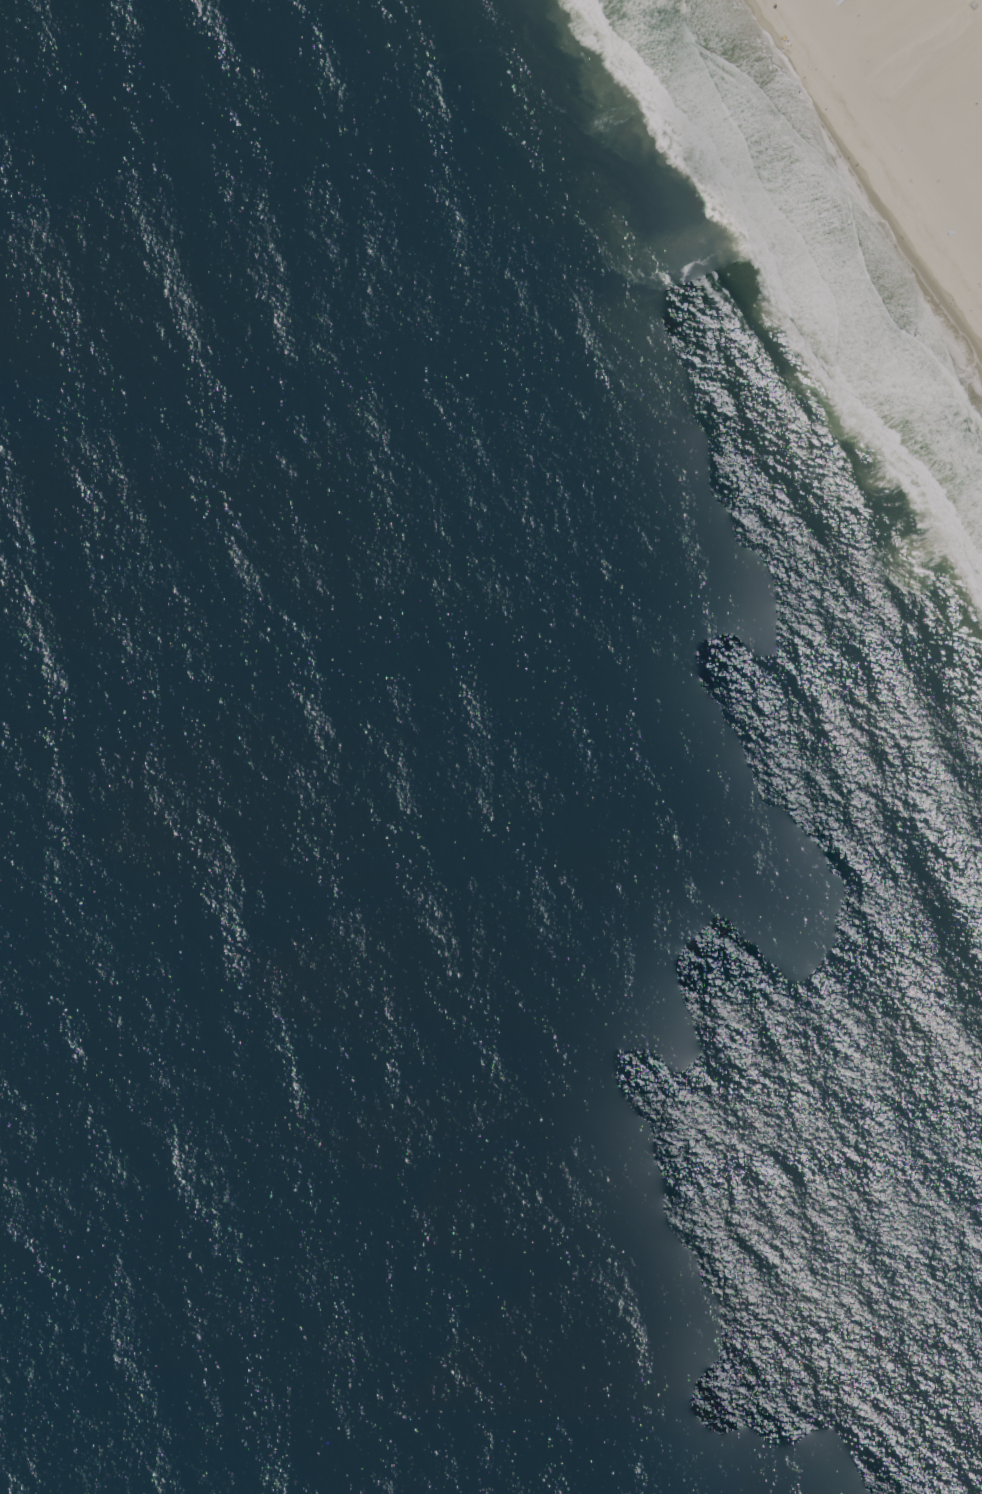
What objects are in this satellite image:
building: (846, 2)

